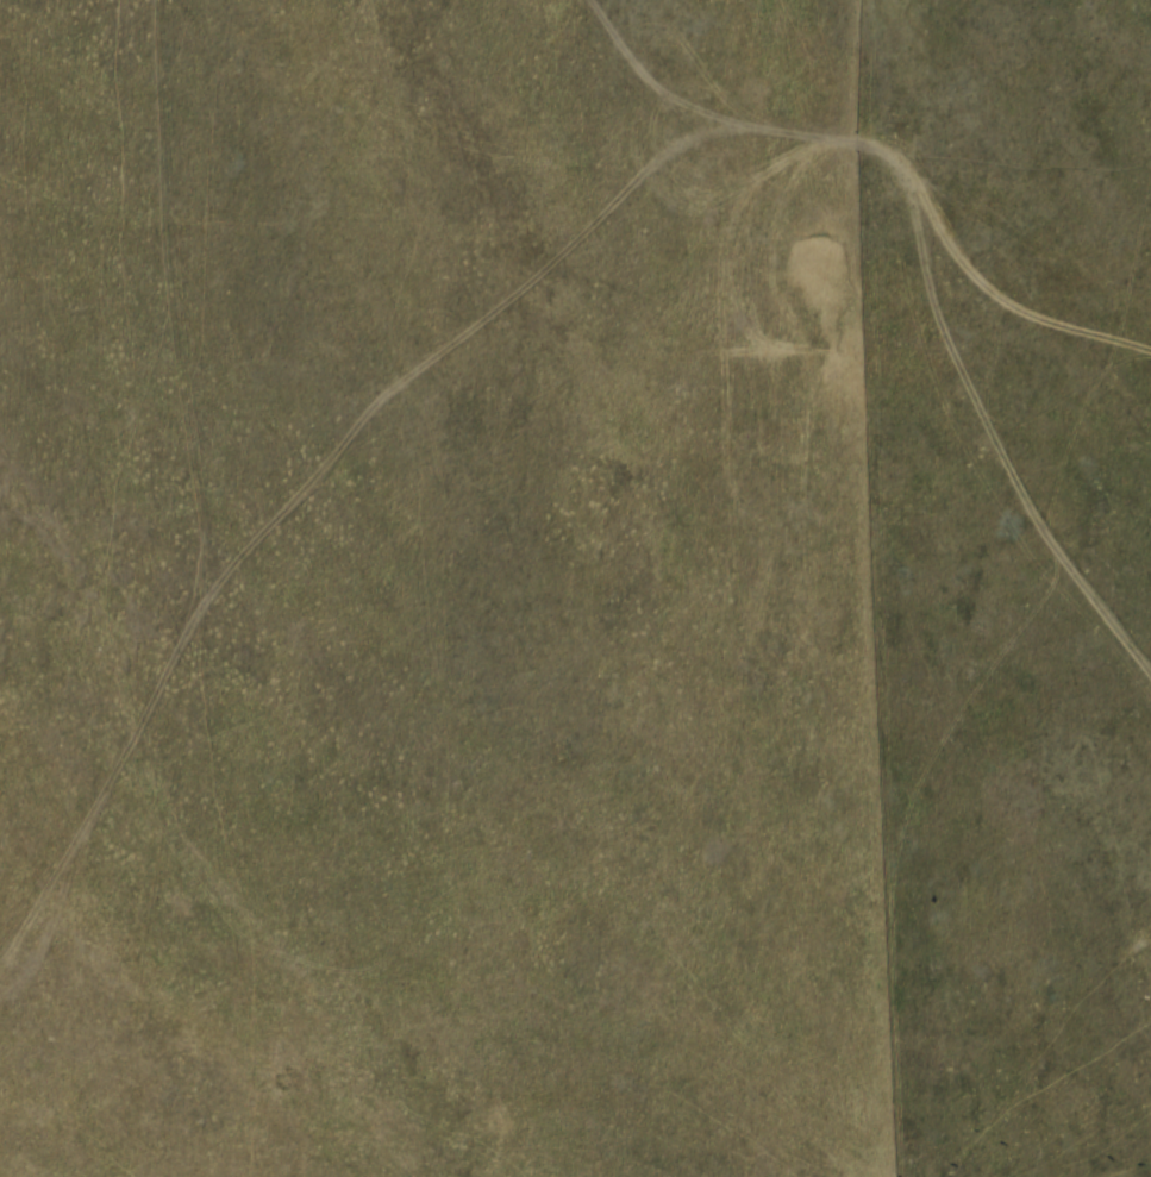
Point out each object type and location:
road: (875, 314)
road: (179, 588)

